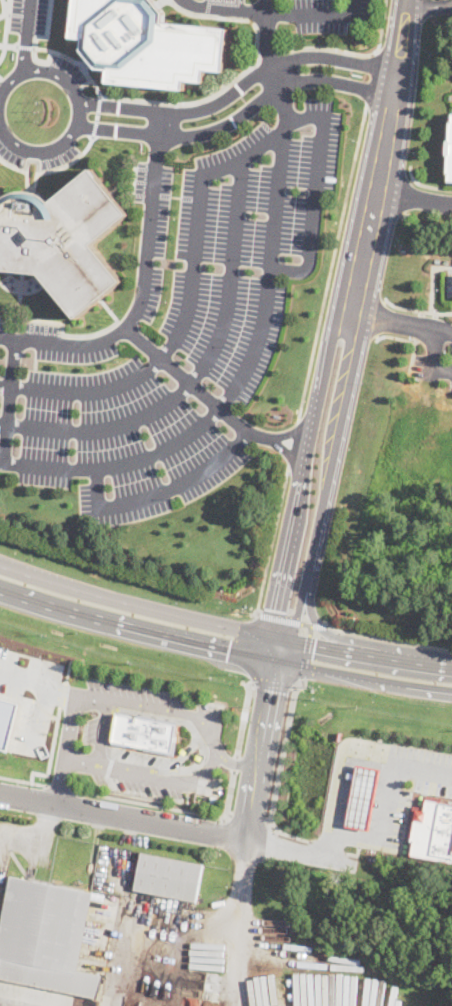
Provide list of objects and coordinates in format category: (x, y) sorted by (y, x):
road: (428, 5)
road: (2, 8)
road: (226, 8)
parking lot: (295, 12)
road: (1, 13)
road: (318, 14)
parking lot: (27, 16)
road: (6, 22)
road: (382, 24)
road: (26, 36)
road: (37, 37)
building: (146, 43)
road: (2, 44)
road: (4, 46)
road: (24, 46)
road: (330, 47)
road: (400, 47)
road: (270, 54)
road: (274, 62)
road: (372, 76)
road: (238, 85)
road: (142, 100)
road: (78, 112)
road: (238, 115)
road: (160, 124)
road: (385, 142)
road: (241, 161)
road: (37, 164)
building: (451, 173)
road: (424, 185)
road: (276, 197)
road: (414, 198)
building: (62, 239)
road: (363, 251)
road: (332, 262)
road: (140, 298)
road: (416, 310)
road: (381, 317)
road: (391, 321)
road: (417, 326)
parking lot: (175, 328)
road: (177, 332)
road: (409, 340)
road: (431, 350)
parking lot: (435, 350)
road: (322, 385)
road: (195, 386)
road: (10, 401)
road: (273, 438)
road: (293, 443)
road: (334, 446)
road: (117, 464)
road: (303, 479)
road: (160, 488)
road: (294, 523)
road: (272, 541)
road: (52, 580)
road: (276, 605)
traffic signals: (276, 610)
road: (187, 618)
road: (283, 619)
road: (295, 622)
road: (318, 623)
road: (319, 624)
road: (137, 627)
road: (389, 639)
road: (311, 645)
road: (249, 646)
traffic signals: (314, 646)
traffic signals: (228, 649)
road: (306, 654)
road: (377, 655)
road: (421, 662)
road: (445, 665)
road: (364, 676)
road: (32, 678)
road: (274, 683)
traffic signals: (272, 690)
road: (72, 696)
road: (268, 705)
road: (193, 714)
road: (244, 715)
building: (8, 720)
road: (100, 731)
building: (145, 732)
road: (66, 737)
road: (183, 756)
road: (235, 763)
road: (280, 771)
road: (348, 772)
road: (147, 774)
road: (22, 780)
road: (58, 787)
building: (364, 796)
building: (213, 800)
road: (171, 807)
road: (387, 808)
road: (167, 825)
building: (432, 829)
road: (30, 830)
road: (298, 849)
building: (169, 877)
road: (241, 922)
building: (276, 925)
road: (152, 933)
building: (46, 939)

